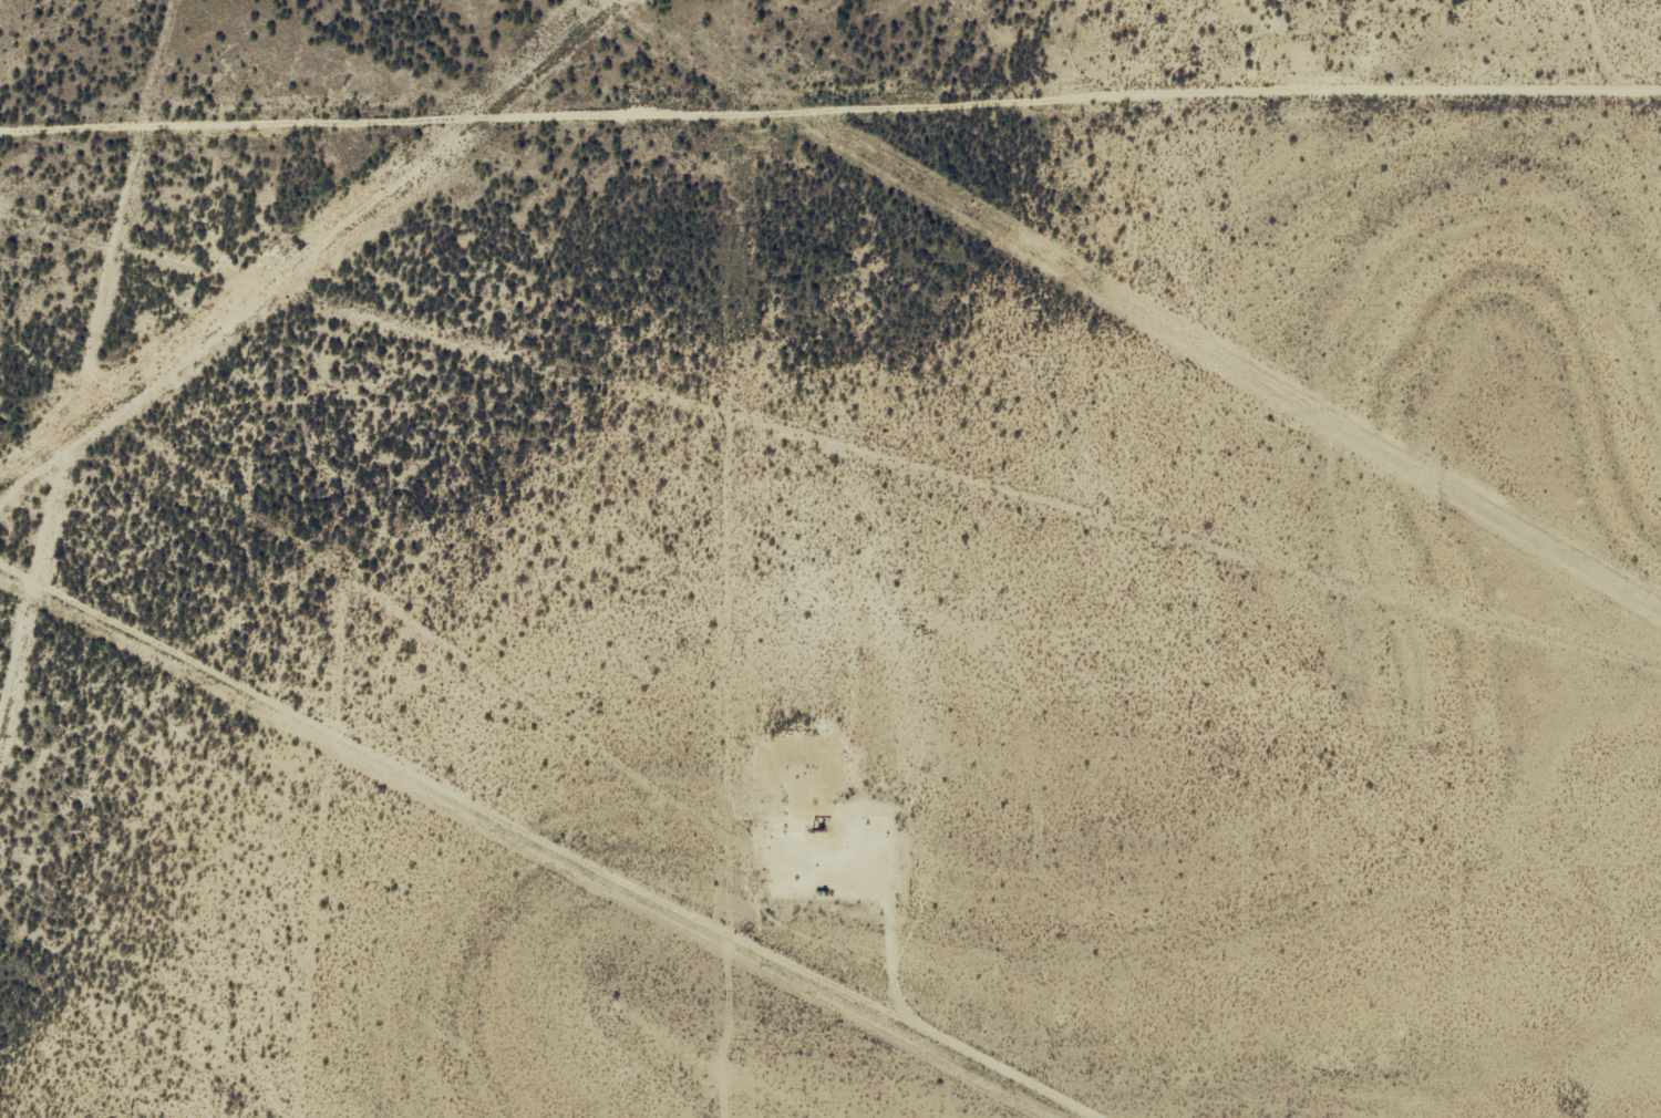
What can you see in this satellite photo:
road: (1169, 106)
power tower: (733, 248)
power tower: (734, 655)
road: (514, 877)
power tower: (734, 1060)

